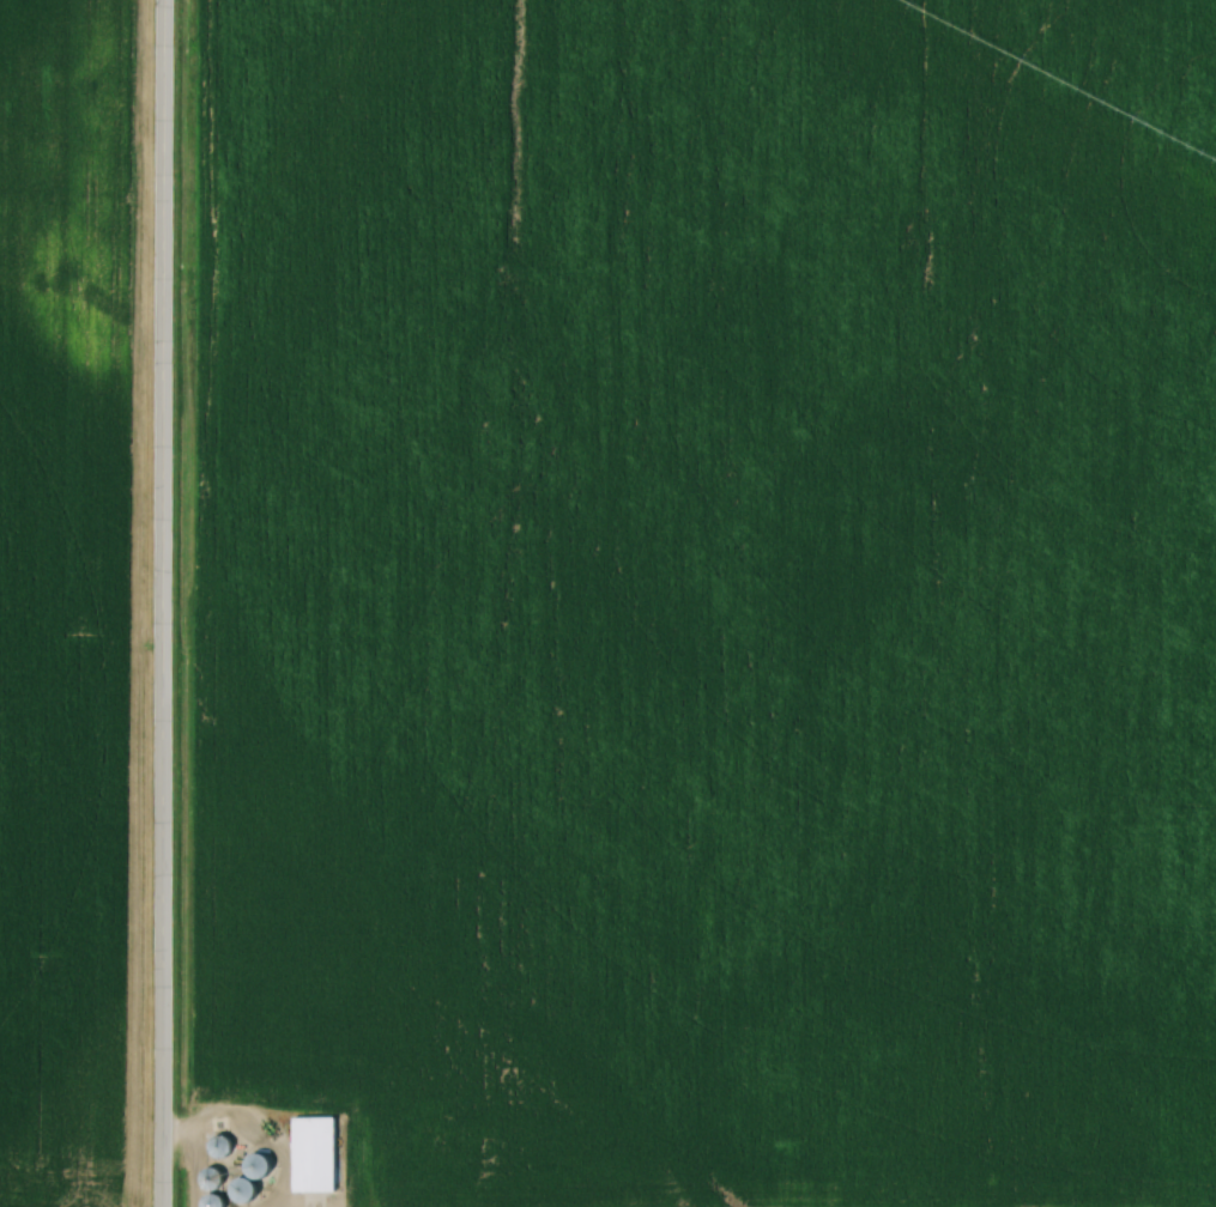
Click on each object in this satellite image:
road: (162, 603)
building: (320, 1154)
building: (268, 1166)

